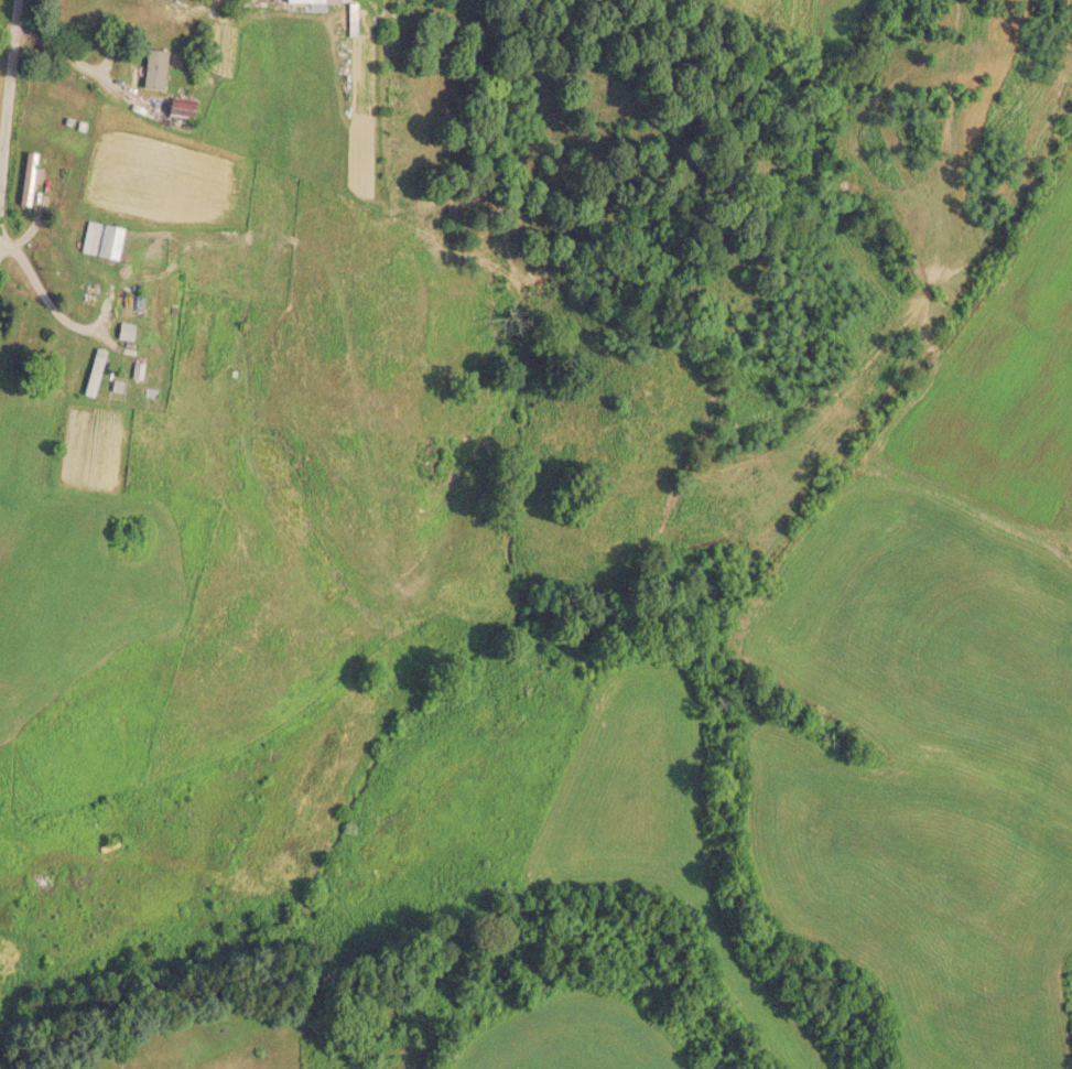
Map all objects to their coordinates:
building: (301, 1)
building: (144, 76)
road: (8, 89)
building: (28, 177)
building: (98, 240)
building: (89, 376)

